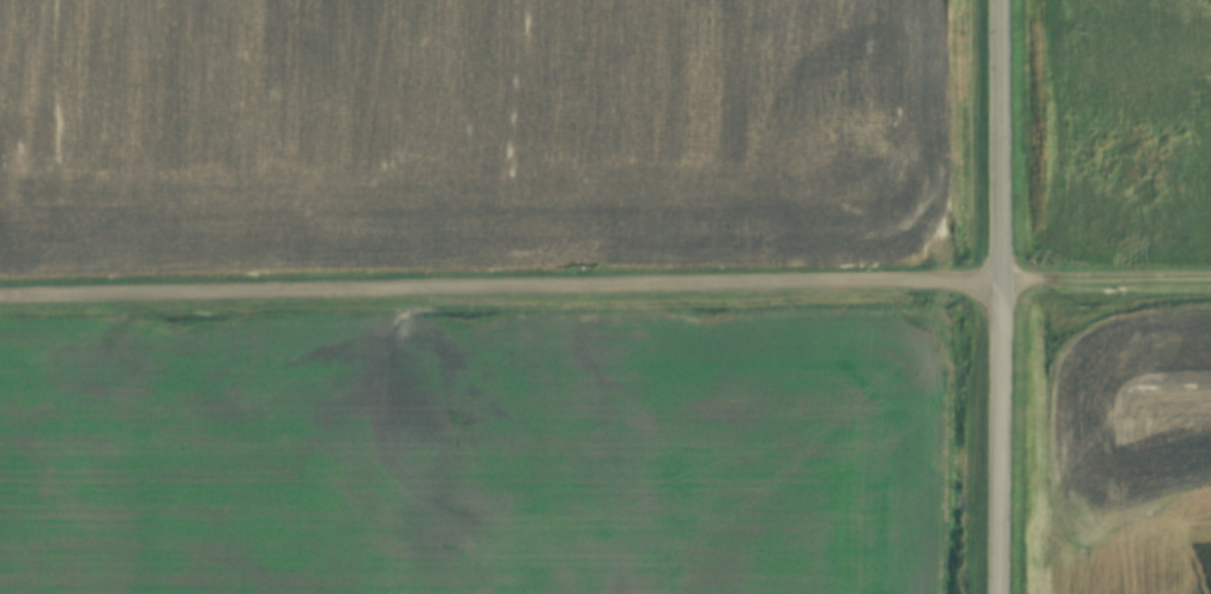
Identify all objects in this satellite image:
road: (604, 287)
road: (999, 297)

